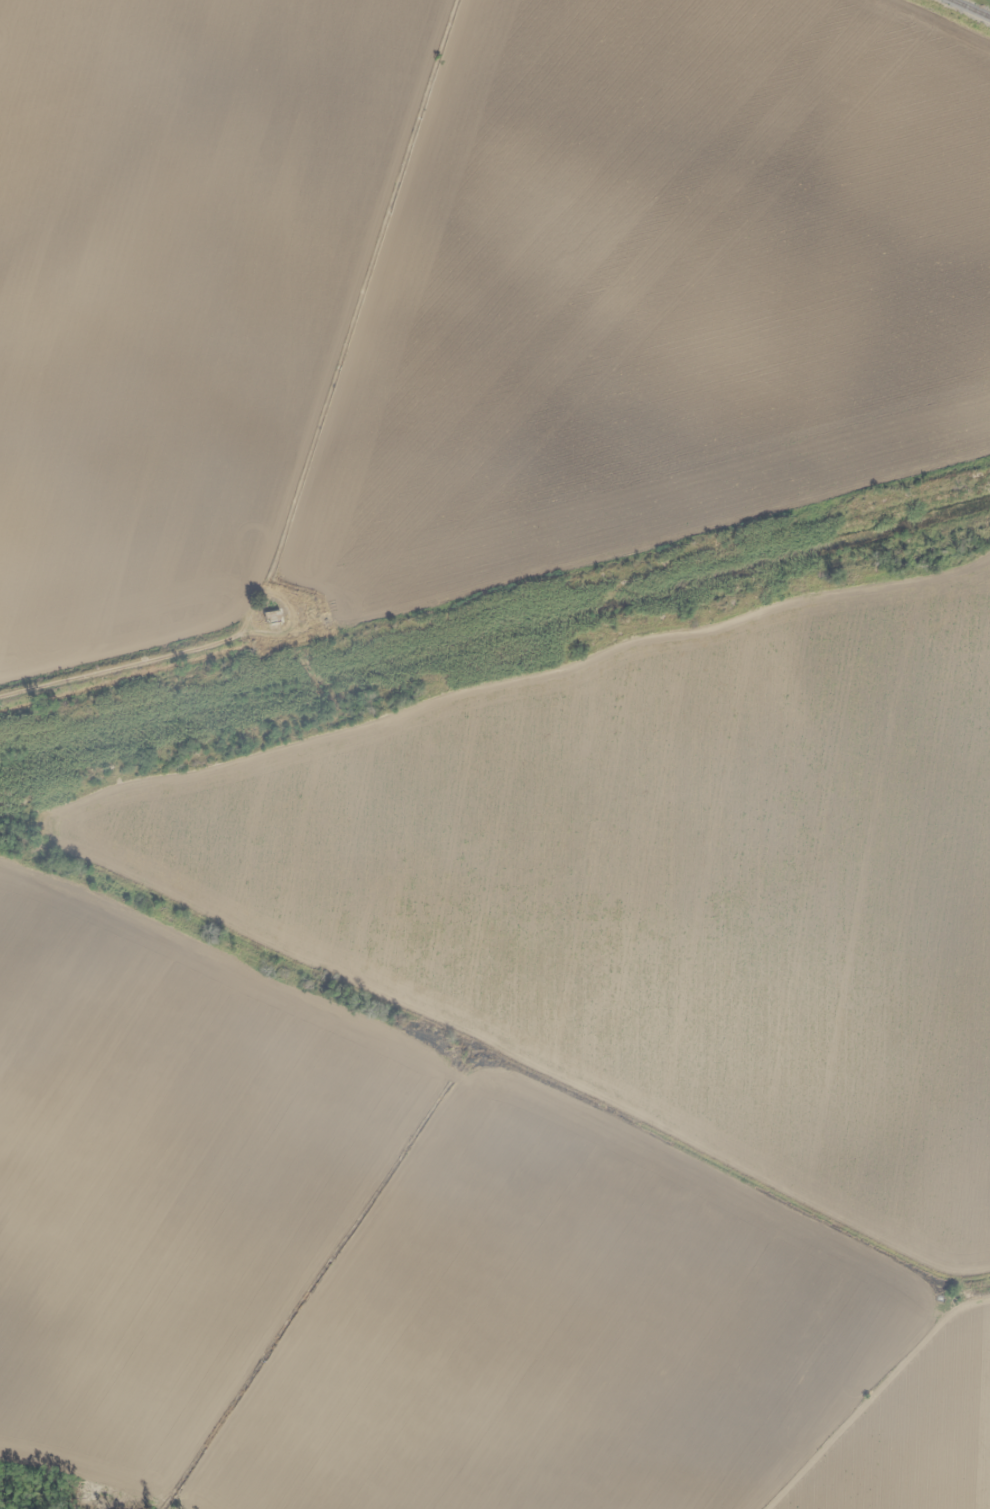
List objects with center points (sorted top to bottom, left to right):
railway: (972, 8)

